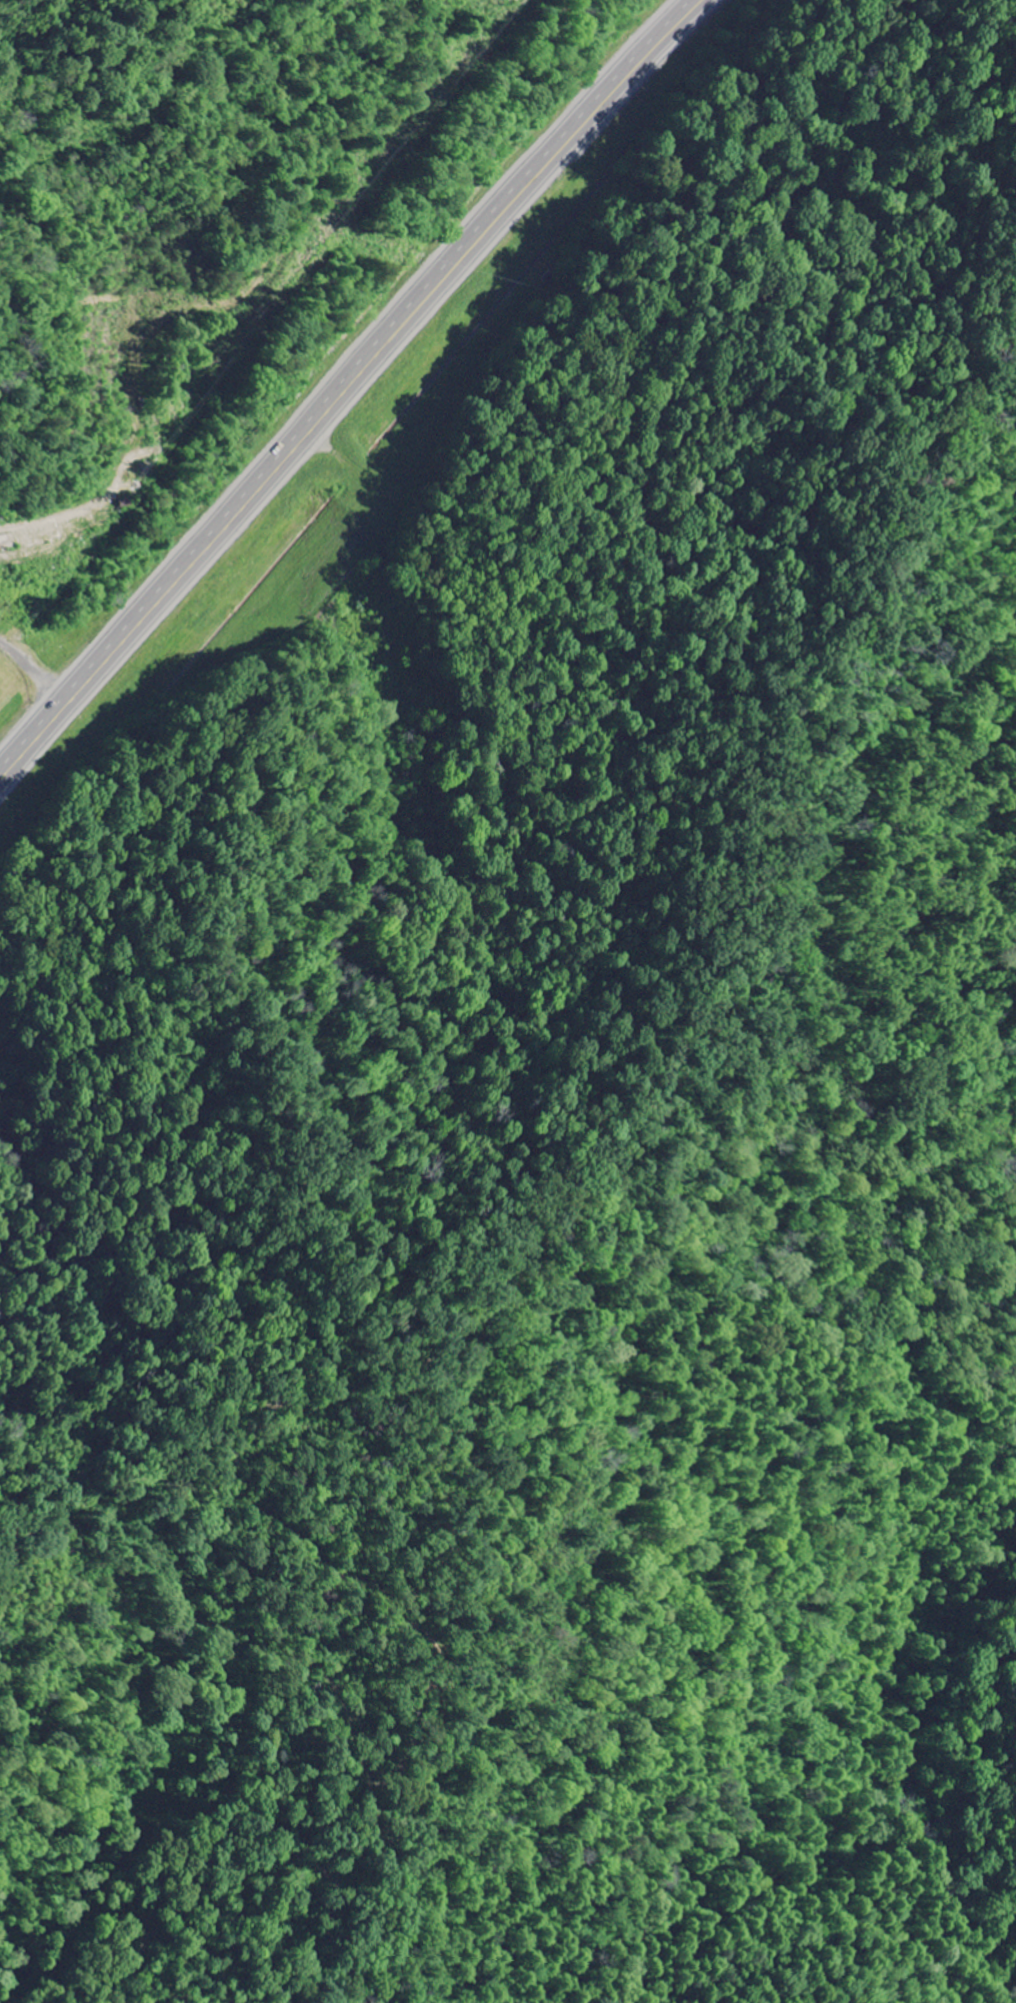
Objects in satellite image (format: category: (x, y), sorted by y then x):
road: (348, 383)

